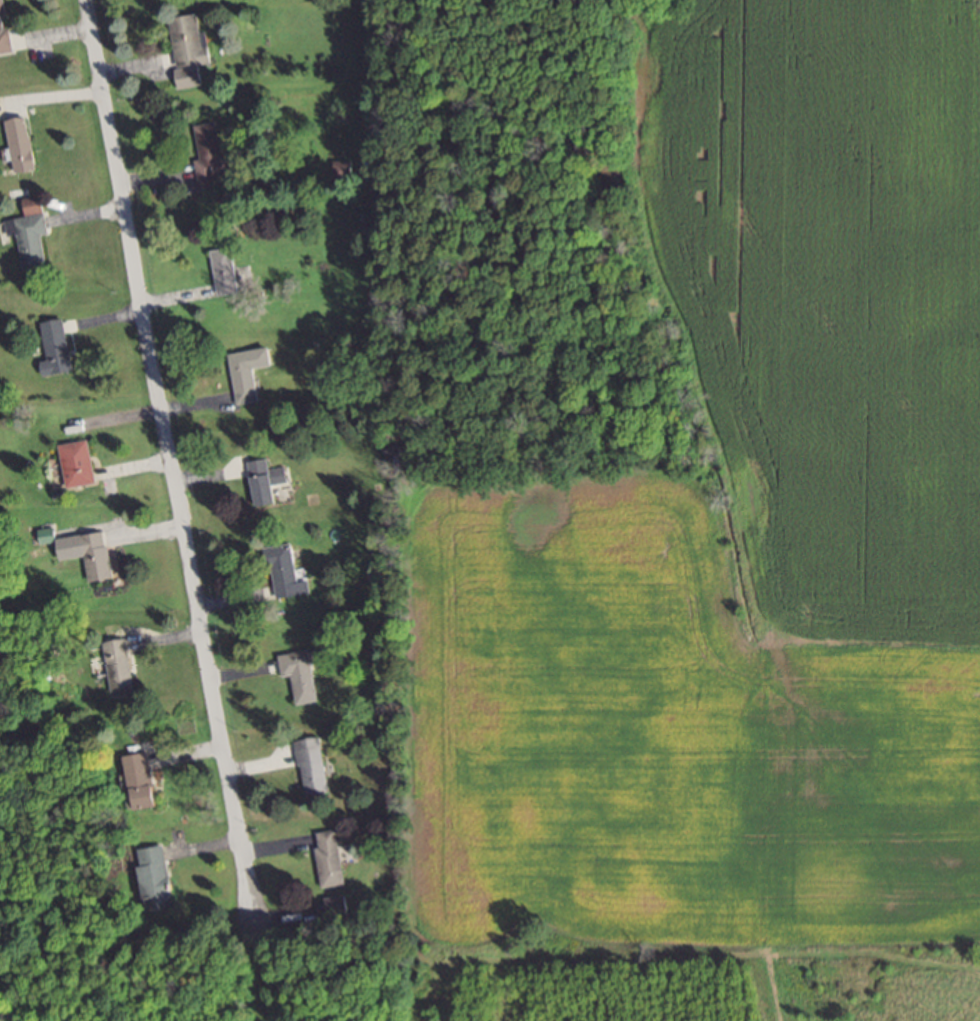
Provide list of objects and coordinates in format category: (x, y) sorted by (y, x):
building: (4, 28)
building: (188, 40)
building: (19, 143)
building: (211, 156)
building: (30, 231)
building: (226, 269)
building: (58, 347)
building: (249, 371)
road: (169, 458)
building: (77, 462)
building: (267, 480)
building: (96, 555)
building: (286, 570)
building: (120, 665)
building: (299, 673)
building: (312, 765)
building: (144, 780)
building: (330, 857)
building: (158, 878)
building: (337, 904)
building: (365, 906)

